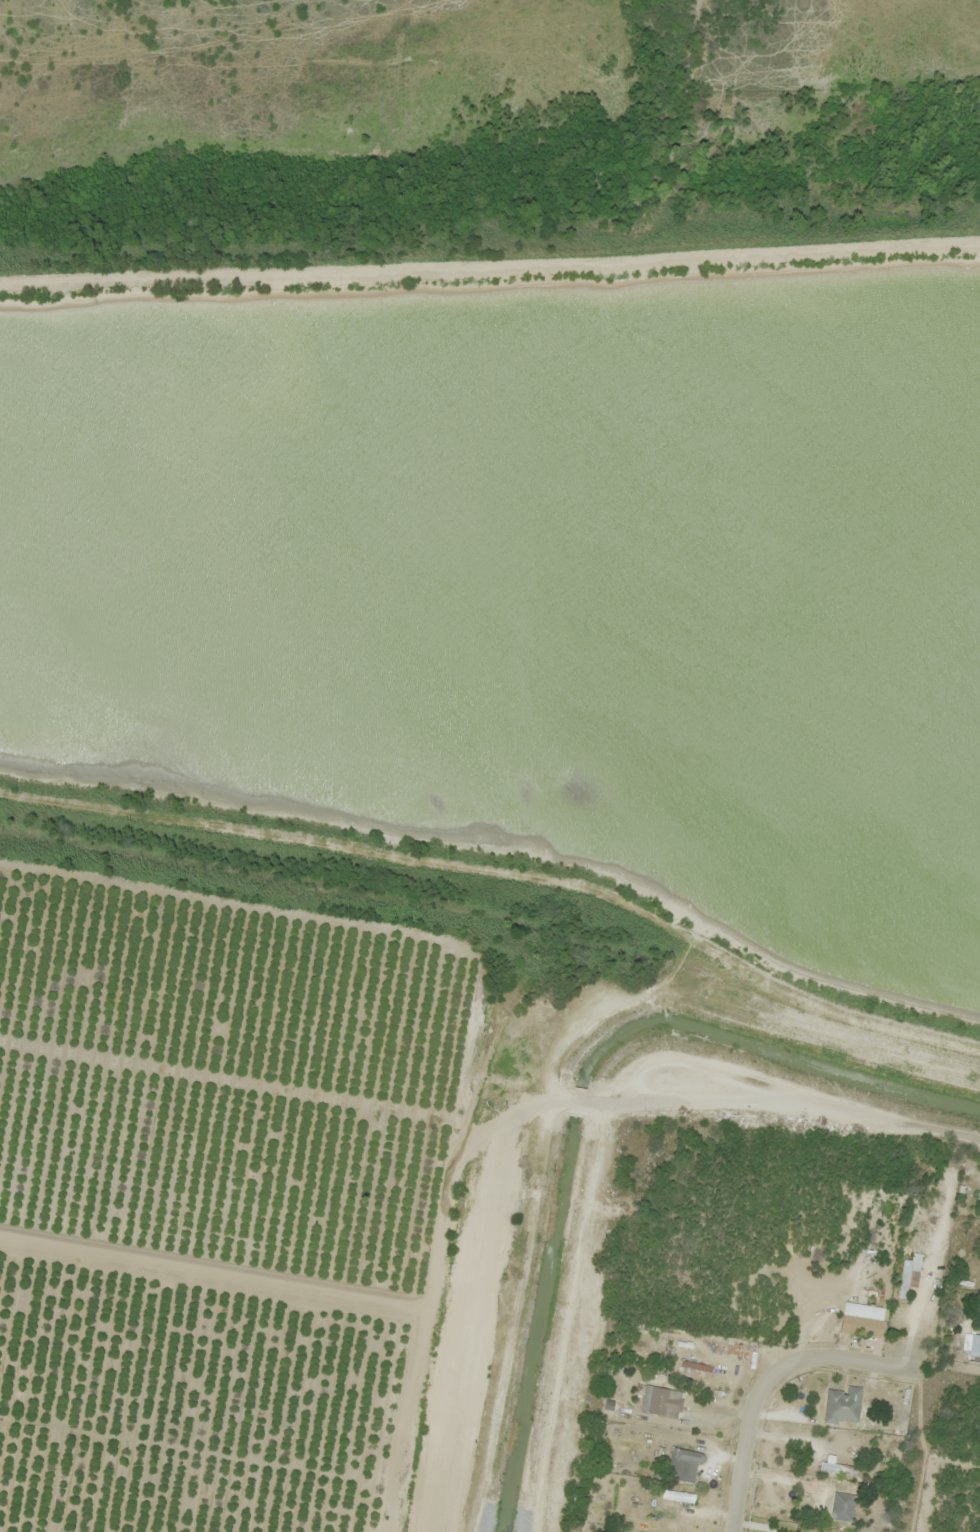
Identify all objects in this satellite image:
road: (463, 1115)
road: (920, 1130)
building: (909, 1275)
building: (861, 1326)
building: (974, 1348)
building: (696, 1367)
road: (769, 1377)
building: (661, 1401)
building: (843, 1406)
building: (683, 1466)
building: (837, 1468)
building: (678, 1497)
building: (842, 1507)

